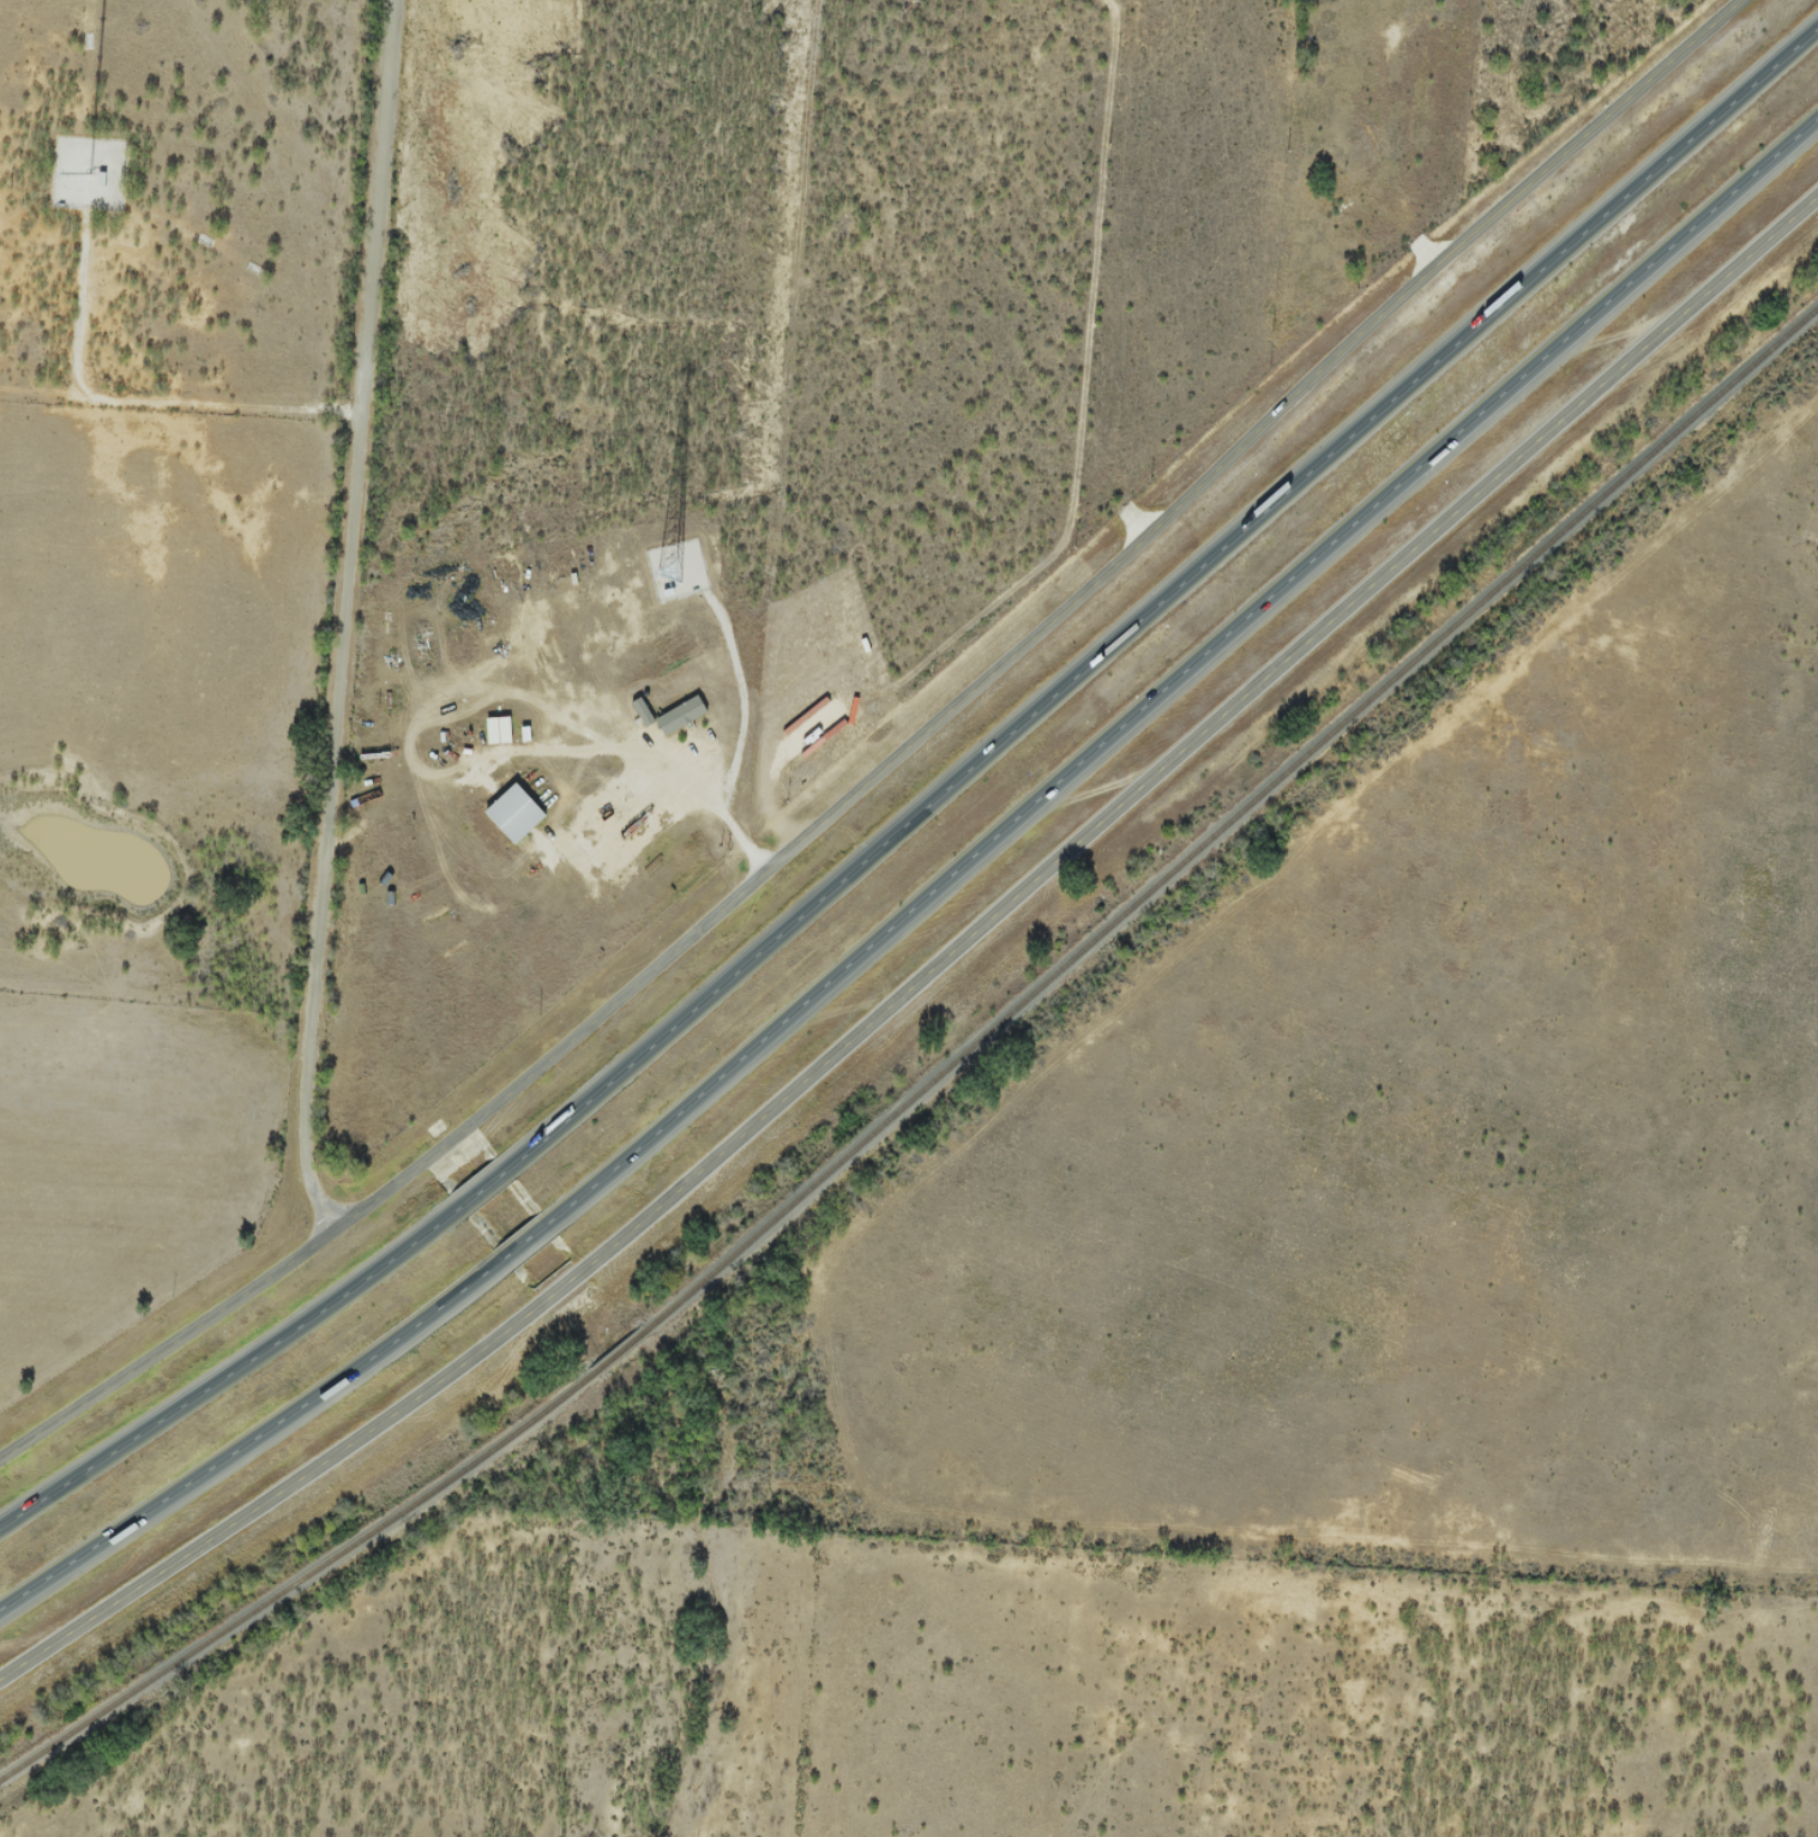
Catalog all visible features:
road: (134, 400)
road: (1162, 590)
road: (347, 619)
road: (1186, 675)
road: (740, 736)
road: (895, 753)
road: (656, 787)
road: (931, 964)
railway: (937, 1080)
road: (487, 1186)
road: (529, 1245)
road: (231, 1366)
road: (255, 1440)

